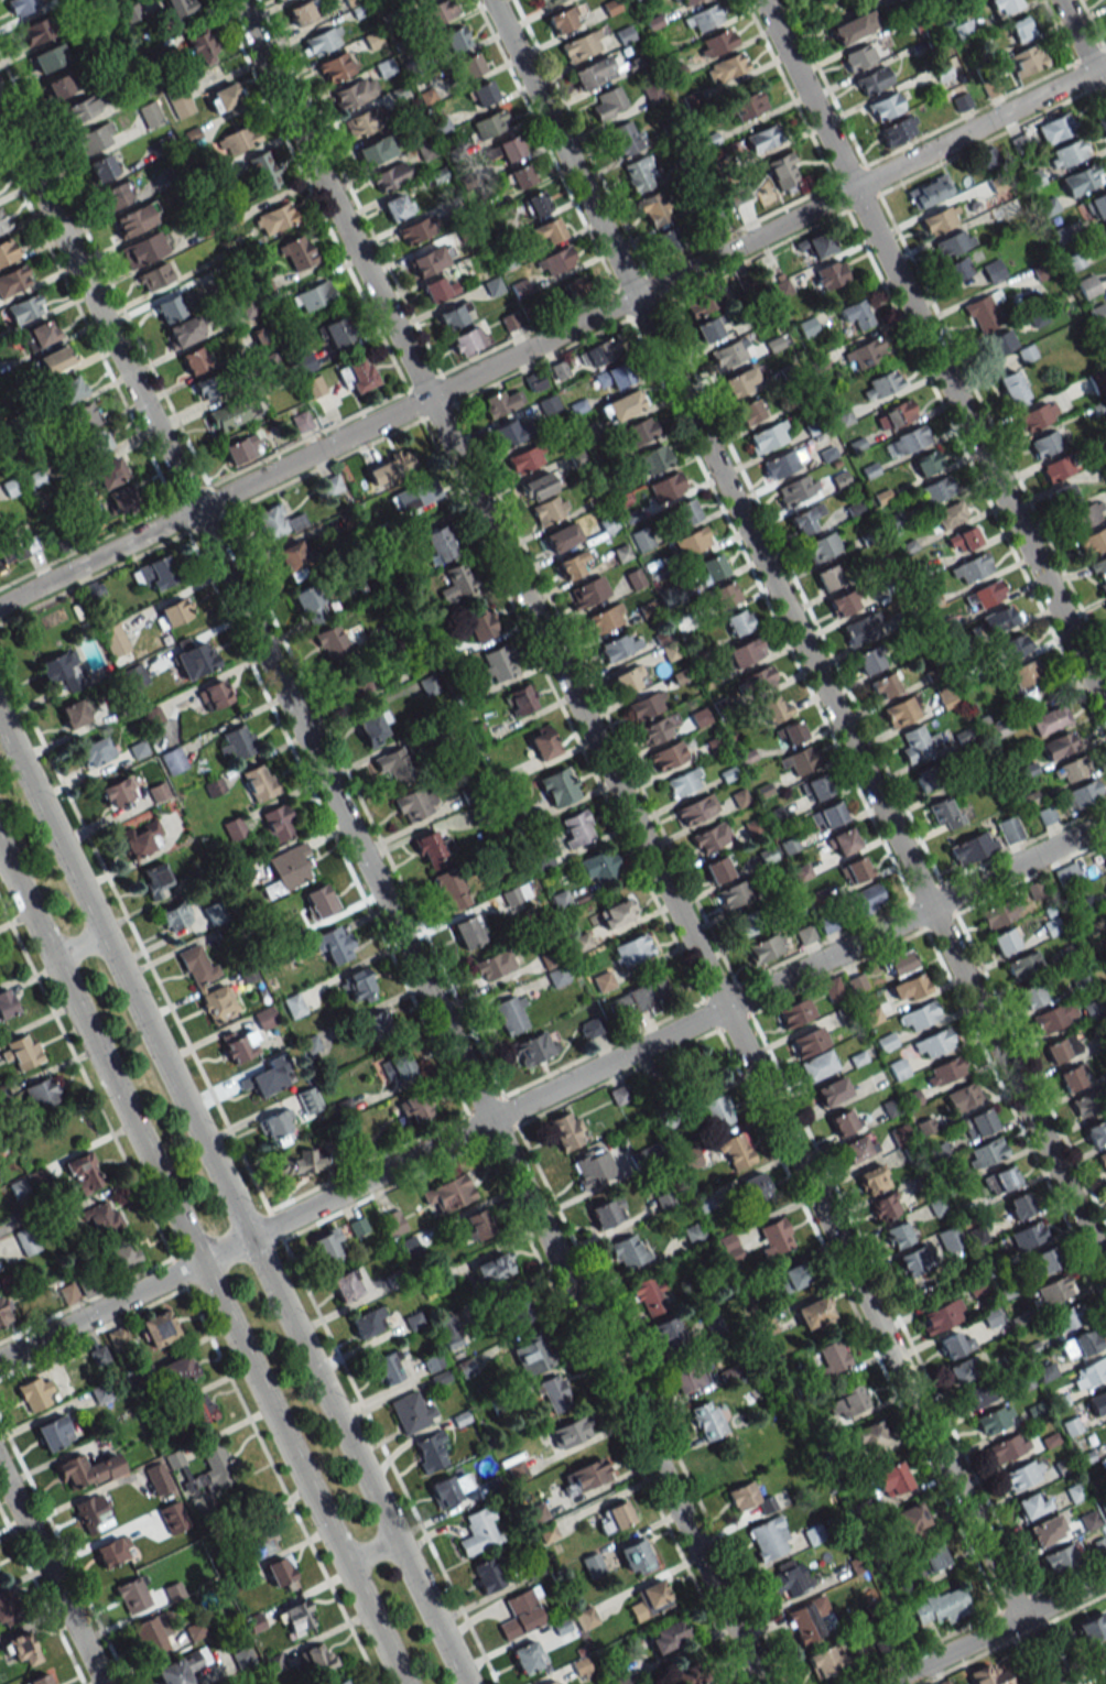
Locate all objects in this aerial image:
building: (416, 0)
building: (1105, 0)
building: (546, 1)
building: (686, 2)
building: (22, 6)
building: (1002, 6)
building: (180, 7)
building: (303, 11)
building: (438, 11)
building: (566, 18)
building: (704, 18)
building: (854, 26)
building: (1021, 29)
building: (963, 30)
building: (34, 31)
building: (455, 39)
building: (323, 41)
building: (716, 43)
building: (582, 45)
building: (203, 46)
road: (1082, 47)
building: (857, 57)
building: (48, 58)
building: (1027, 59)
building: (468, 65)
building: (335, 67)
building: (726, 68)
building: (597, 69)
building: (871, 80)
building: (58, 86)
building: (355, 93)
building: (481, 93)
building: (224, 97)
building: (607, 101)
building: (181, 104)
building: (747, 106)
building: (885, 106)
building: (83, 108)
building: (150, 113)
building: (361, 122)
building: (490, 123)
building: (1055, 128)
building: (898, 130)
building: (95, 138)
building: (762, 138)
building: (238, 139)
building: (624, 139)
building: (509, 148)
building: (375, 150)
building: (1067, 153)
building: (102, 167)
building: (263, 170)
building: (784, 170)
building: (638, 174)
building: (390, 176)
building: (520, 176)
building: (1081, 180)
building: (929, 192)
building: (117, 195)
building: (535, 204)
building: (1097, 205)
building: (397, 206)
building: (652, 209)
building: (275, 217)
building: (135, 218)
building: (941, 219)
building: (2, 224)
building: (415, 230)
building: (549, 230)
building: (1103, 232)
building: (670, 240)
building: (818, 245)
building: (950, 245)
building: (144, 248)
building: (7, 250)
building: (296, 252)
building: (427, 261)
building: (555, 261)
building: (957, 268)
building: (829, 275)
building: (154, 276)
building: (13, 280)
building: (1087, 286)
building: (440, 287)
building: (573, 287)
building: (314, 295)
building: (703, 302)
building: (247, 306)
building: (25, 308)
building: (170, 308)
building: (855, 314)
building: (982, 314)
building: (1098, 314)
building: (454, 316)
building: (709, 328)
building: (184, 330)
building: (335, 333)
building: (39, 335)
road: (553, 336)
building: (1104, 337)
building: (467, 340)
building: (1000, 343)
building: (600, 352)
building: (729, 354)
building: (865, 354)
road: (933, 354)
building: (55, 360)
building: (195, 360)
building: (304, 362)
building: (357, 376)
building: (612, 376)
building: (740, 382)
building: (880, 384)
building: (209, 385)
building: (314, 387)
building: (71, 389)
building: (1012, 389)
building: (501, 401)
building: (622, 405)
building: (749, 412)
building: (227, 415)
building: (894, 415)
building: (84, 416)
building: (1037, 416)
building: (638, 432)
building: (509, 433)
building: (769, 436)
building: (907, 441)
building: (95, 442)
building: (1045, 444)
building: (241, 448)
building: (524, 459)
building: (651, 460)
building: (782, 463)
building: (926, 463)
building: (389, 467)
building: (1056, 468)
building: (109, 472)
building: (332, 485)
building: (538, 486)
building: (666, 487)
building: (936, 489)
building: (796, 490)
building: (413, 495)
building: (1063, 495)
building: (123, 498)
building: (549, 510)
building: (686, 511)
building: (1086, 514)
building: (947, 515)
building: (804, 519)
building: (276, 520)
building: (561, 536)
building: (642, 539)
building: (963, 540)
building: (1093, 541)
building: (692, 542)
building: (441, 544)
building: (822, 546)
building: (291, 561)
building: (572, 564)
building: (712, 566)
building: (971, 567)
building: (1099, 572)
building: (153, 574)
building: (829, 576)
building: (457, 582)
building: (586, 591)
building: (726, 593)
building: (985, 595)
building: (311, 602)
building: (844, 602)
building: (172, 613)
building: (606, 618)
building: (999, 618)
building: (480, 622)
building: (738, 622)
building: (861, 628)
road: (798, 635)
building: (113, 640)
building: (333, 641)
building: (618, 645)
building: (1012, 647)
building: (745, 652)
building: (195, 659)
building: (868, 660)
building: (496, 663)
building: (932, 669)
building: (64, 670)
building: (1023, 674)
building: (134, 675)
building: (629, 678)
building: (759, 678)
building: (355, 685)
building: (429, 685)
building: (883, 685)
building: (214, 695)
building: (945, 696)
building: (1027, 696)
building: (520, 699)
building: (647, 705)
building: (772, 708)
building: (900, 711)
building: (73, 714)
building: (1050, 719)
building: (372, 726)
building: (1000, 728)
building: (655, 731)
building: (792, 732)
building: (237, 741)
building: (542, 742)
building: (919, 743)
building: (1059, 745)
building: (96, 751)
building: (668, 756)
building: (173, 760)
building: (799, 760)
building: (393, 763)
building: (1072, 770)
building: (926, 778)
building: (258, 782)
building: (684, 782)
building: (559, 786)
building: (816, 787)
building: (117, 793)
building: (1084, 793)
building: (415, 803)
building: (695, 808)
building: (945, 813)
building: (826, 815)
building: (279, 823)
building: (234, 828)
building: (576, 828)
building: (1009, 829)
building: (711, 837)
building: (140, 838)
road: (643, 841)
building: (843, 841)
building: (972, 847)
building: (433, 848)
building: (1104, 854)
building: (599, 866)
building: (289, 869)
building: (718, 869)
building: (854, 870)
building: (1066, 874)
building: (155, 881)
building: (449, 889)
road: (381, 891)
building: (516, 893)
building: (733, 894)
building: (867, 899)
building: (319, 901)
building: (616, 913)
building: (1000, 913)
building: (174, 916)
building: (749, 922)
building: (469, 931)
building: (805, 934)
building: (1006, 939)
building: (335, 944)
road: (77, 946)
building: (765, 948)
building: (631, 950)
building: (196, 964)
building: (900, 964)
building: (494, 965)
building: (1023, 965)
building: (557, 976)
building: (357, 986)
building: (909, 988)
building: (832, 989)
building: (647, 993)
building: (1031, 995)
building: (6, 1001)
building: (218, 1002)
building: (293, 1004)
building: (795, 1012)
building: (511, 1013)
building: (919, 1015)
building: (1054, 1017)
building: (378, 1025)
building: (590, 1028)
building: (807, 1042)
building: (886, 1042)
building: (933, 1043)
building: (235, 1046)
building: (535, 1047)
building: (1061, 1047)
building: (23, 1052)
building: (817, 1066)
building: (398, 1067)
building: (695, 1069)
building: (899, 1069)
building: (944, 1071)
building: (267, 1077)
building: (1073, 1077)
road: (552, 1089)
building: (832, 1090)
building: (40, 1094)
building: (620, 1094)
building: (964, 1096)
building: (308, 1100)
building: (1085, 1104)
building: (414, 1107)
building: (716, 1111)
building: (843, 1121)
building: (977, 1123)
building: (273, 1127)
building: (567, 1130)
building: (1096, 1131)
building: (856, 1149)
building: (736, 1151)
building: (986, 1152)
building: (1103, 1160)
building: (304, 1162)
building: (593, 1167)
building: (83, 1173)
building: (872, 1178)
building: (1000, 1180)
building: (755, 1184)
building: (448, 1193)
road: (232, 1202)
building: (1020, 1205)
building: (885, 1206)
building: (939, 1206)
building: (606, 1213)
building: (101, 1217)
building: (392, 1221)
building: (476, 1225)
building: (694, 1234)
building: (898, 1235)
building: (1028, 1235)
building: (774, 1236)
building: (948, 1239)
building: (25, 1240)
building: (327, 1246)
building: (627, 1251)
building: (123, 1254)
building: (1045, 1259)
building: (913, 1260)
road: (200, 1267)
building: (494, 1267)
building: (0, 1269)
building: (791, 1276)
building: (347, 1285)
building: (1054, 1290)
building: (650, 1295)
building: (518, 1307)
building: (813, 1313)
building: (2, 1314)
building: (941, 1316)
building: (991, 1317)
building: (1065, 1318)
building: (368, 1322)
building: (158, 1328)
building: (448, 1332)
building: (666, 1334)
building: (118, 1337)
building: (954, 1345)
building: (1080, 1345)
building: (532, 1352)
building: (98, 1356)
building: (834, 1358)
building: (388, 1368)
building: (176, 1370)
building: (961, 1371)
building: (1089, 1373)
building: (687, 1376)
building: (35, 1393)
building: (100, 1393)
building: (553, 1393)
building: (977, 1394)
building: (847, 1401)
building: (1098, 1402)
building: (199, 1410)
building: (411, 1412)
building: (994, 1419)
building: (707, 1421)
building: (53, 1432)
building: (571, 1432)
building: (870, 1435)
building: (1008, 1447)
building: (429, 1451)
building: (87, 1470)
building: (209, 1470)
building: (1022, 1475)
building: (585, 1476)
building: (159, 1479)
building: (891, 1479)
building: (446, 1490)
building: (744, 1496)
building: (1031, 1504)
building: (93, 1513)
building: (615, 1517)
building: (911, 1518)
building: (1045, 1530)
building: (479, 1531)
building: (769, 1538)
building: (112, 1552)
road: (370, 1552)
building: (636, 1556)
building: (934, 1557)
building: (1060, 1558)
building: (593, 1565)
building: (280, 1573)
building: (486, 1575)
road: (51, 1577)
building: (789, 1578)
building: (132, 1595)
building: (650, 1600)
building: (942, 1606)
building: (6, 1610)
building: (521, 1614)
building: (295, 1618)
building: (807, 1619)
building: (256, 1621)
building: (1093, 1628)
road: (995, 1631)
building: (193, 1632)
building: (150, 1636)
building: (666, 1636)
building: (22, 1649)
building: (241, 1656)
building: (317, 1656)
building: (528, 1656)
building: (1099, 1660)
building: (826, 1661)
building: (275, 1663)
building: (581, 1666)
building: (182, 1667)
building: (685, 1674)
building: (988, 1675)
building: (41, 1680)
building: (1104, 1681)
building: (340, 1682)
building: (554, 1682)
building: (943, 1682)

